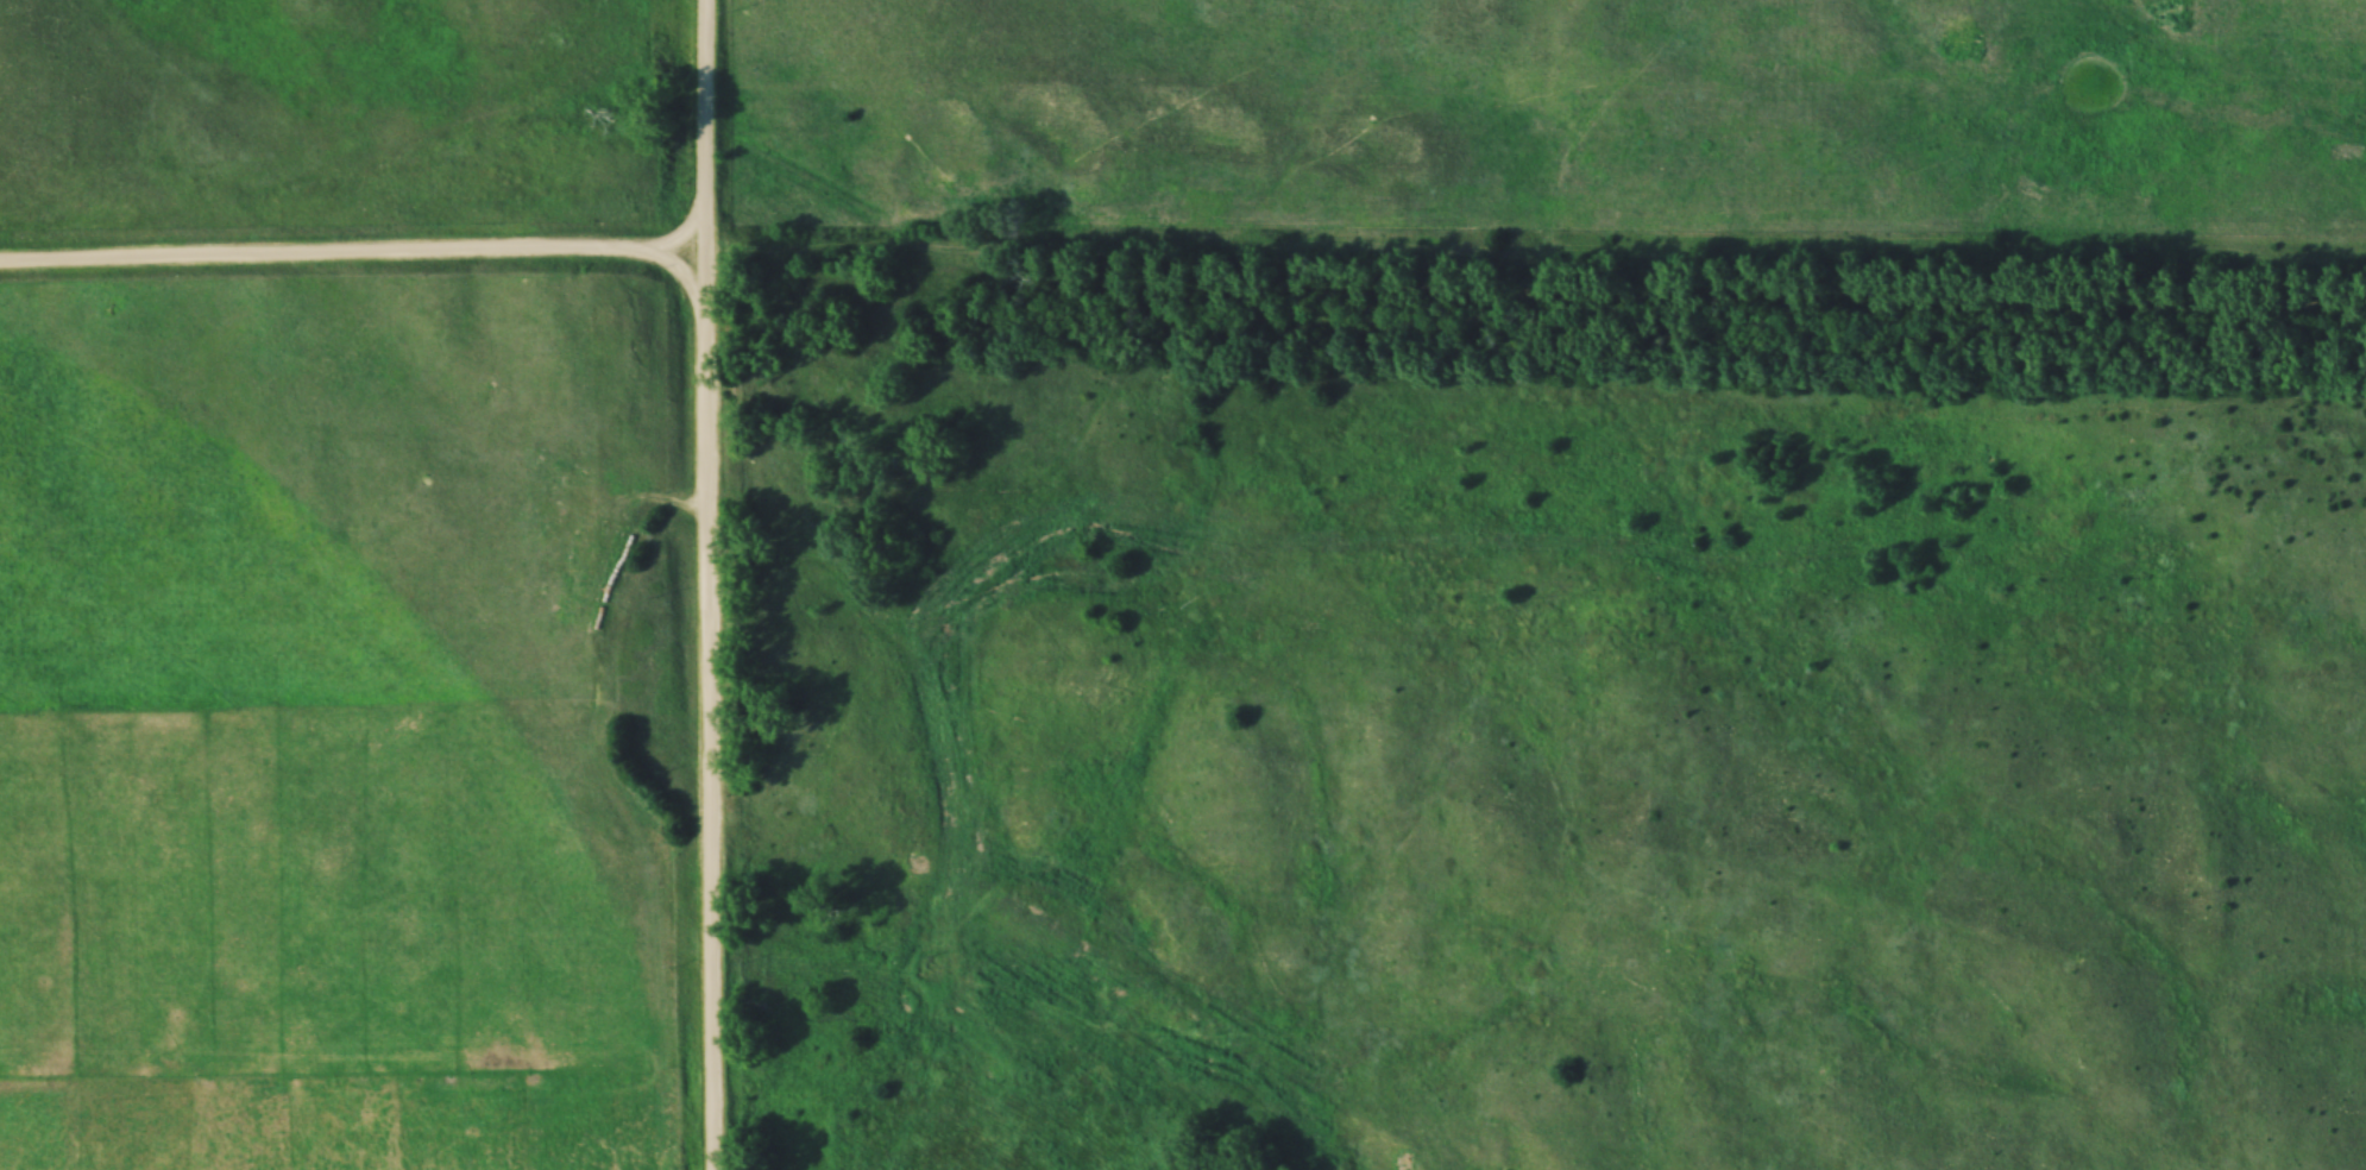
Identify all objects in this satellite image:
road: (704, 127)
road: (351, 259)
road: (704, 712)

